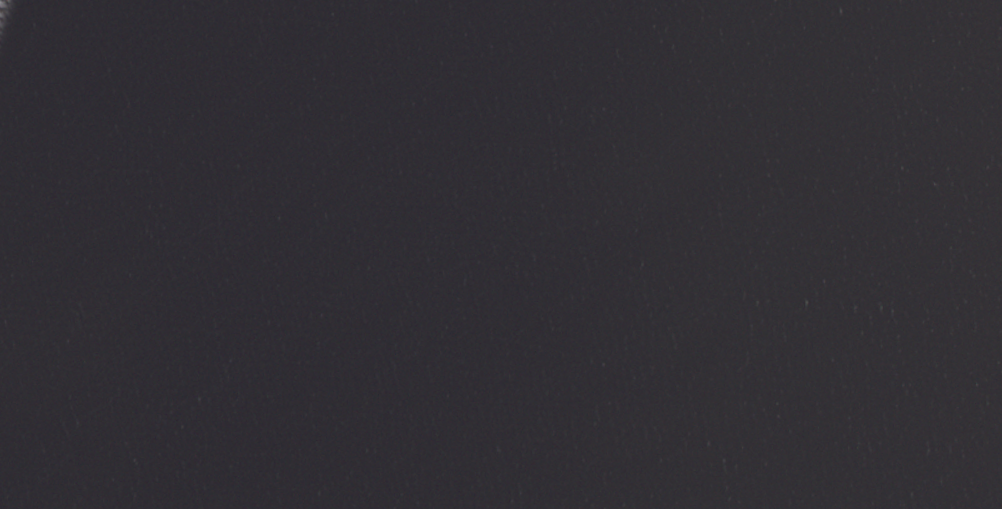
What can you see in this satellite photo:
river: (634, 268)

